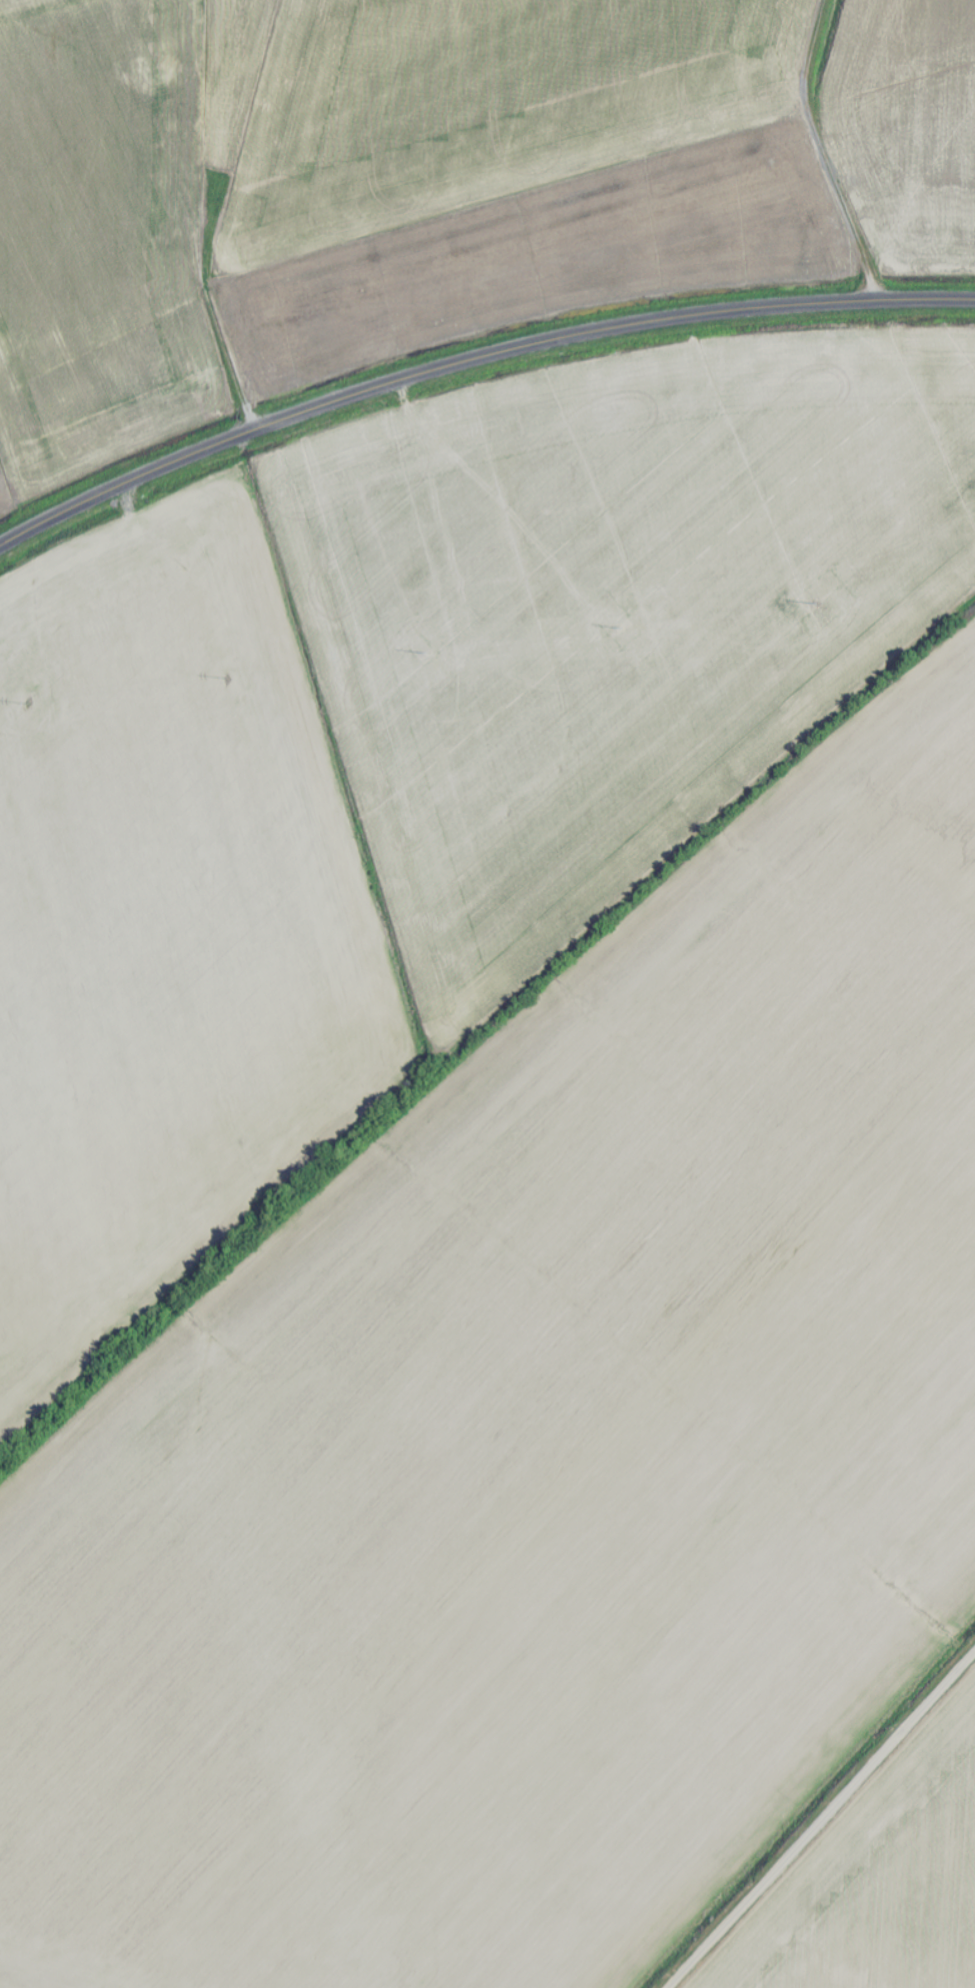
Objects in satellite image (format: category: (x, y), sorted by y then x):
road: (865, 150)
road: (471, 363)
road: (823, 1820)
crop: (878, 1878)

